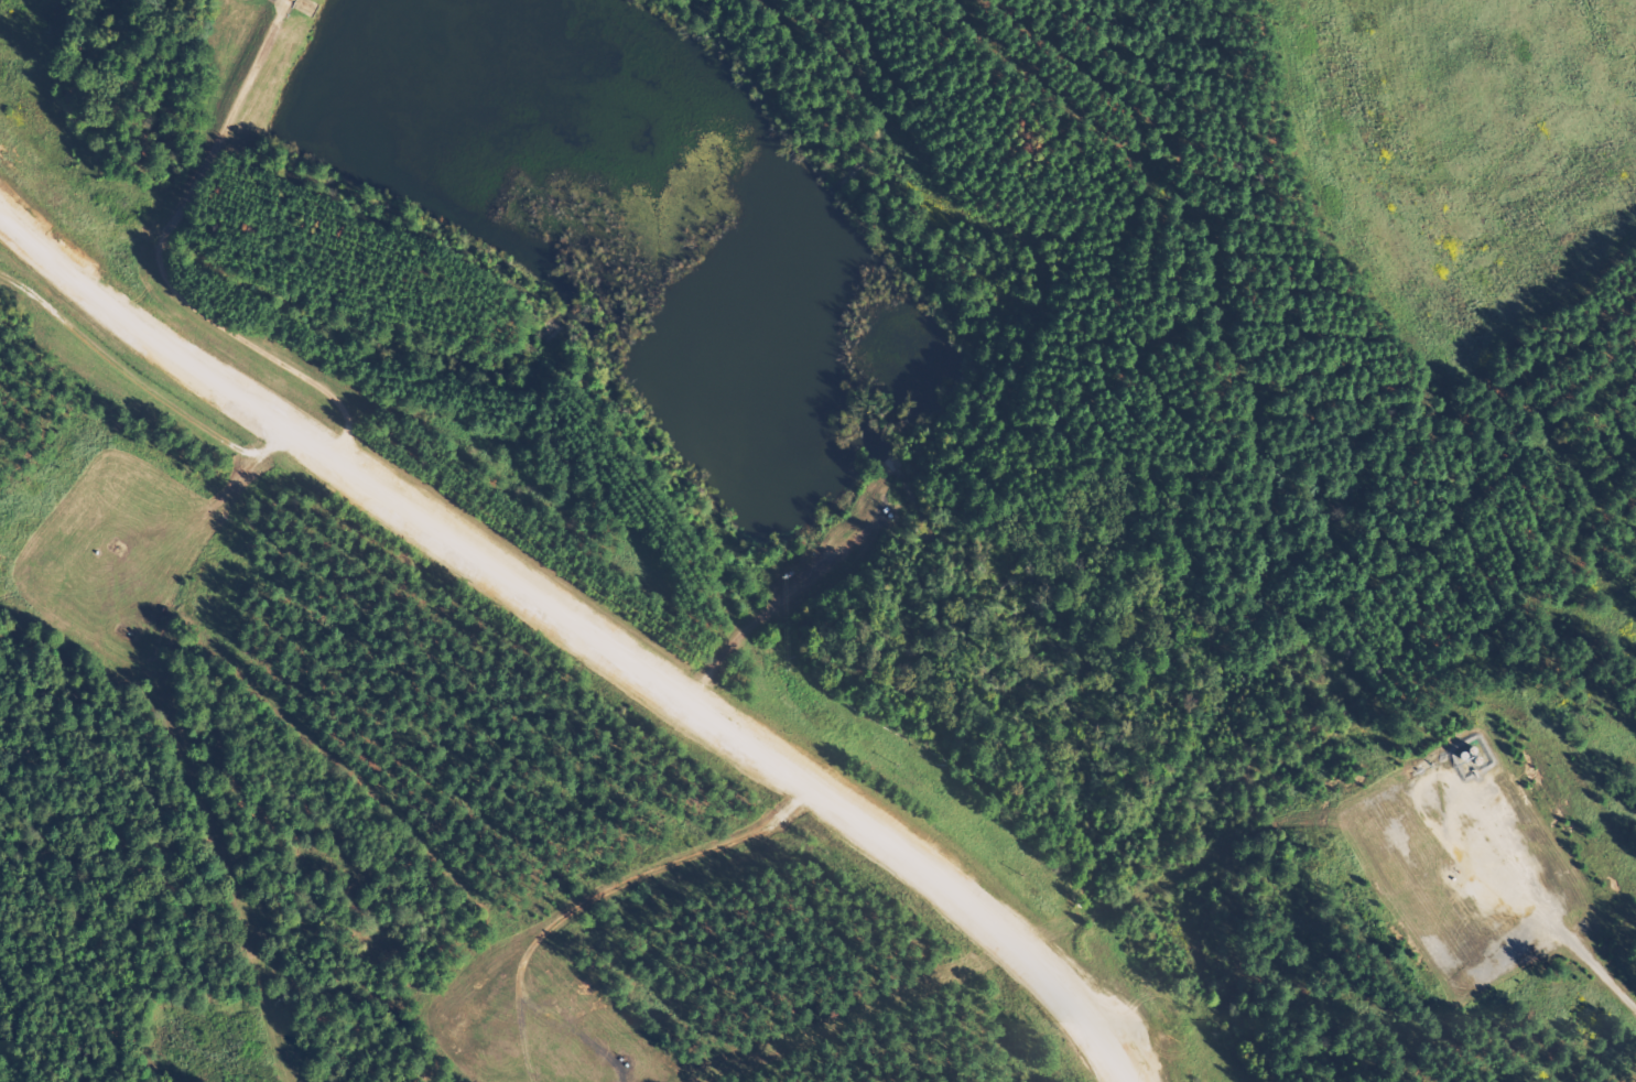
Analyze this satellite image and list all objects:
road: (579, 628)

